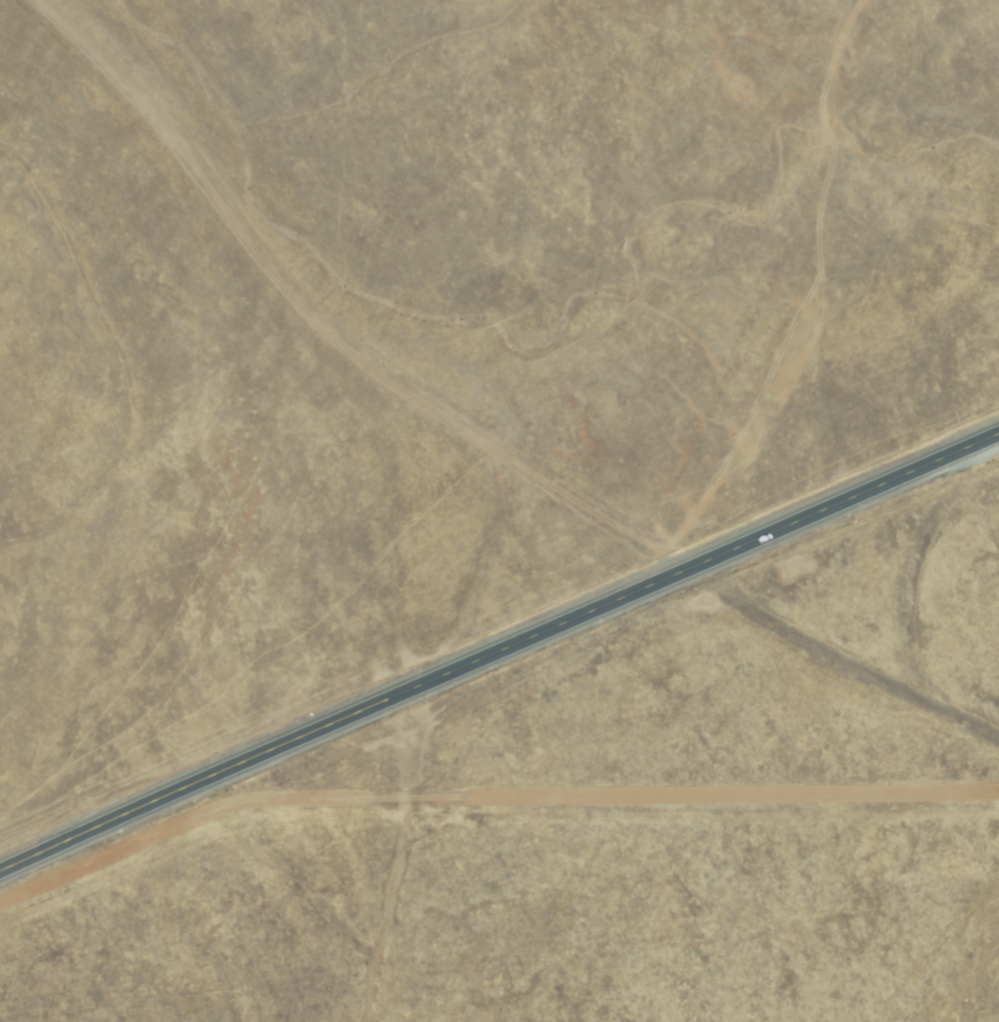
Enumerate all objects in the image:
road: (776, 297)
road: (315, 314)
road: (499, 650)
airport: (515, 906)

